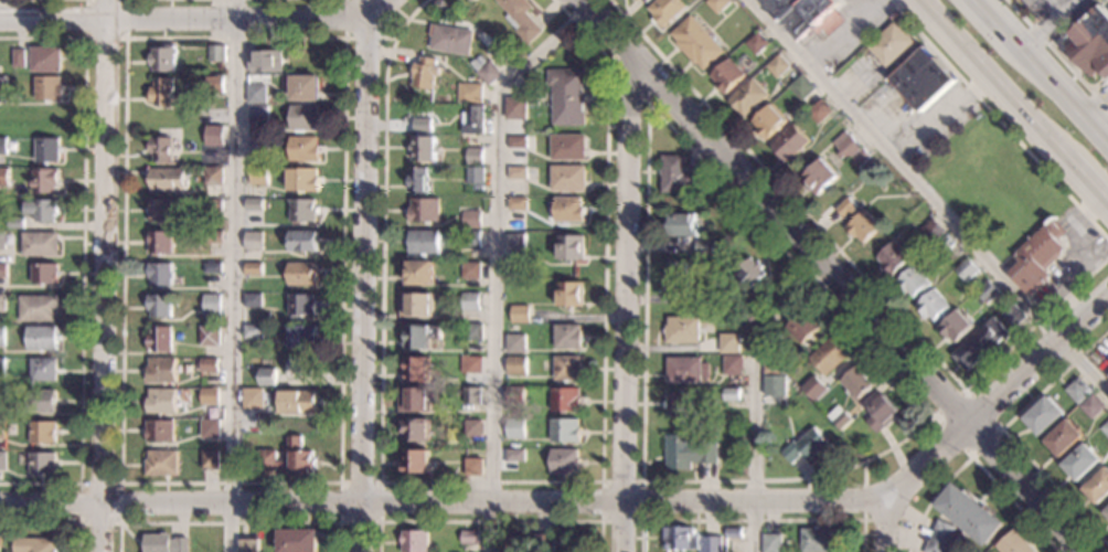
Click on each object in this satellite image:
building: (475, 1)
building: (644, 1)
building: (717, 6)
road: (1056, 7)
road: (1070, 7)
road: (377, 8)
building: (443, 8)
parking lot: (1053, 11)
building: (664, 12)
building: (800, 14)
road: (183, 15)
building: (520, 19)
road: (998, 21)
road: (1042, 31)
road: (104, 38)
road: (343, 38)
road: (351, 38)
building: (451, 41)
building: (1089, 42)
building: (695, 43)
building: (756, 44)
building: (889, 46)
building: (294, 50)
building: (214, 54)
road: (1057, 54)
building: (17, 60)
building: (161, 60)
building: (42, 61)
building: (266, 63)
road: (612, 66)
building: (778, 66)
building: (425, 74)
building: (489, 74)
building: (726, 77)
road: (991, 79)
building: (923, 81)
building: (1, 84)
building: (213, 86)
building: (801, 88)
building: (44, 89)
building: (303, 89)
building: (160, 93)
road: (1062, 93)
building: (255, 95)
building: (469, 95)
building: (567, 97)
building: (748, 99)
building: (515, 110)
building: (818, 113)
building: (257, 117)
building: (303, 118)
road: (999, 119)
building: (471, 120)
building: (767, 124)
building: (423, 125)
building: (212, 144)
building: (516, 144)
building: (788, 145)
building: (1, 147)
building: (257, 147)
building: (845, 147)
building: (158, 148)
building: (567, 149)
building: (302, 150)
building: (423, 150)
building: (44, 151)
building: (473, 157)
building: (860, 160)
building: (515, 174)
building: (473, 176)
building: (675, 177)
building: (2, 178)
building: (211, 178)
building: (257, 178)
building: (818, 178)
building: (568, 180)
building: (166, 181)
building: (301, 181)
building: (418, 181)
building: (42, 182)
road: (1086, 184)
road: (927, 197)
building: (212, 205)
building: (253, 205)
building: (516, 205)
building: (40, 211)
building: (567, 211)
building: (157, 212)
building: (301, 212)
building: (424, 212)
building: (470, 221)
building: (11, 223)
building: (857, 223)
building: (680, 226)
building: (931, 233)
road: (644, 234)
building: (210, 238)
building: (0, 241)
building: (470, 241)
building: (252, 242)
building: (301, 242)
building: (157, 243)
building: (423, 243)
building: (515, 243)
building: (38, 245)
building: (945, 245)
building: (704, 247)
building: (569, 248)
road: (81, 256)
building: (891, 259)
building: (1037, 259)
road: (496, 261)
road: (852, 266)
building: (210, 269)
building: (252, 269)
building: (0, 270)
building: (966, 272)
building: (470, 273)
building: (749, 274)
building: (42, 275)
building: (157, 275)
road: (232, 275)
building: (301, 275)
road: (364, 275)
building: (420, 275)
road: (831, 275)
road: (104, 276)
building: (679, 283)
building: (913, 284)
building: (974, 285)
building: (987, 294)
building: (569, 296)
building: (251, 300)
building: (471, 302)
building: (1, 304)
road: (626, 305)
building: (210, 306)
building: (417, 306)
building: (934, 306)
building: (157, 307)
building: (301, 307)
building: (35, 309)
building: (519, 316)
building: (1012, 316)
building: (753, 317)
building: (802, 328)
building: (955, 328)
building: (511, 330)
building: (681, 331)
building: (249, 332)
building: (472, 335)
building: (0, 336)
building: (206, 337)
building: (420, 337)
building: (300, 338)
building: (566, 338)
building: (39, 339)
building: (157, 340)
building: (728, 343)
building: (980, 343)
building: (514, 344)
building: (828, 357)
building: (0, 365)
building: (205, 365)
building: (515, 365)
building: (771, 365)
building: (473, 367)
building: (732, 367)
building: (301, 368)
building: (567, 370)
building: (39, 371)
building: (158, 371)
building: (419, 371)
building: (683, 371)
building: (265, 378)
building: (855, 383)
building: (776, 386)
building: (813, 389)
road: (963, 389)
building: (1077, 391)
building: (731, 395)
building: (0, 396)
building: (470, 396)
building: (514, 396)
road: (753, 396)
road: (999, 396)
building: (206, 397)
building: (251, 400)
building: (158, 401)
building: (415, 401)
building: (564, 401)
building: (39, 402)
building: (297, 403)
building: (676, 405)
building: (1091, 406)
building: (882, 415)
building: (1043, 417)
building: (838, 418)
building: (1105, 428)
building: (206, 429)
building: (471, 429)
building: (514, 429)
building: (157, 432)
building: (416, 432)
building: (563, 432)
building: (39, 434)
road: (1004, 434)
building: (1063, 439)
building: (803, 448)
building: (689, 453)
building: (478, 456)
building: (300, 457)
building: (514, 457)
building: (0, 458)
road: (973, 460)
building: (206, 461)
building: (415, 463)
building: (564, 463)
building: (158, 464)
building: (1082, 464)
building: (39, 465)
building: (473, 469)
road: (380, 481)
road: (601, 481)
road: (494, 482)
road: (118, 484)
building: (1098, 488)
road: (445, 505)
building: (1106, 513)
building: (969, 517)
road: (862, 518)
road: (752, 520)
road: (228, 522)
road: (490, 522)
road: (53, 523)
road: (888, 526)
building: (732, 534)
building: (939, 538)
building: (470, 539)
building: (679, 539)
building: (297, 541)
building: (414, 541)
building: (819, 541)
building: (161, 543)
building: (543, 543)
building: (511, 544)
building: (710, 544)
building: (771, 544)
building: (1012, 544)
building: (32, 545)
building: (247, 545)
road: (1069, 548)

